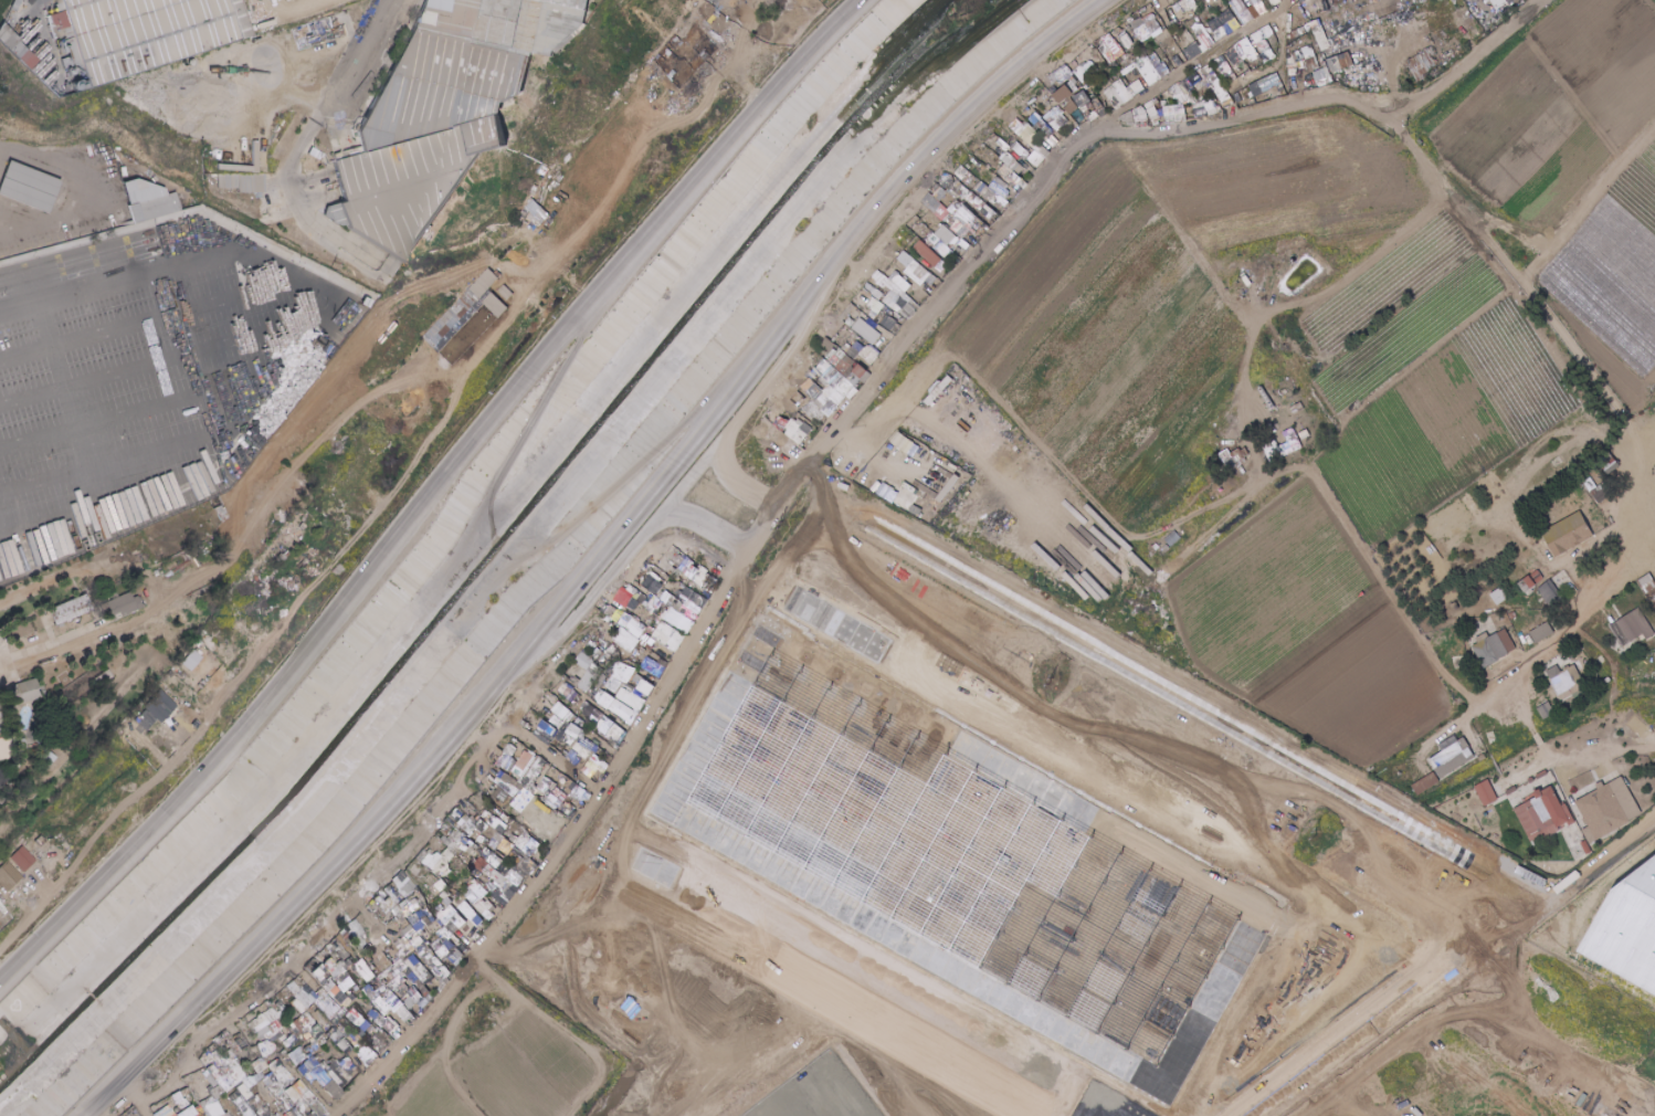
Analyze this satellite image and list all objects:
crop: (1553, 109)
crop: (1617, 265)
crop: (1461, 430)
crop: (1326, 643)
parking lot: (618, 970)
crop: (500, 1066)
parking lot: (910, 1103)

